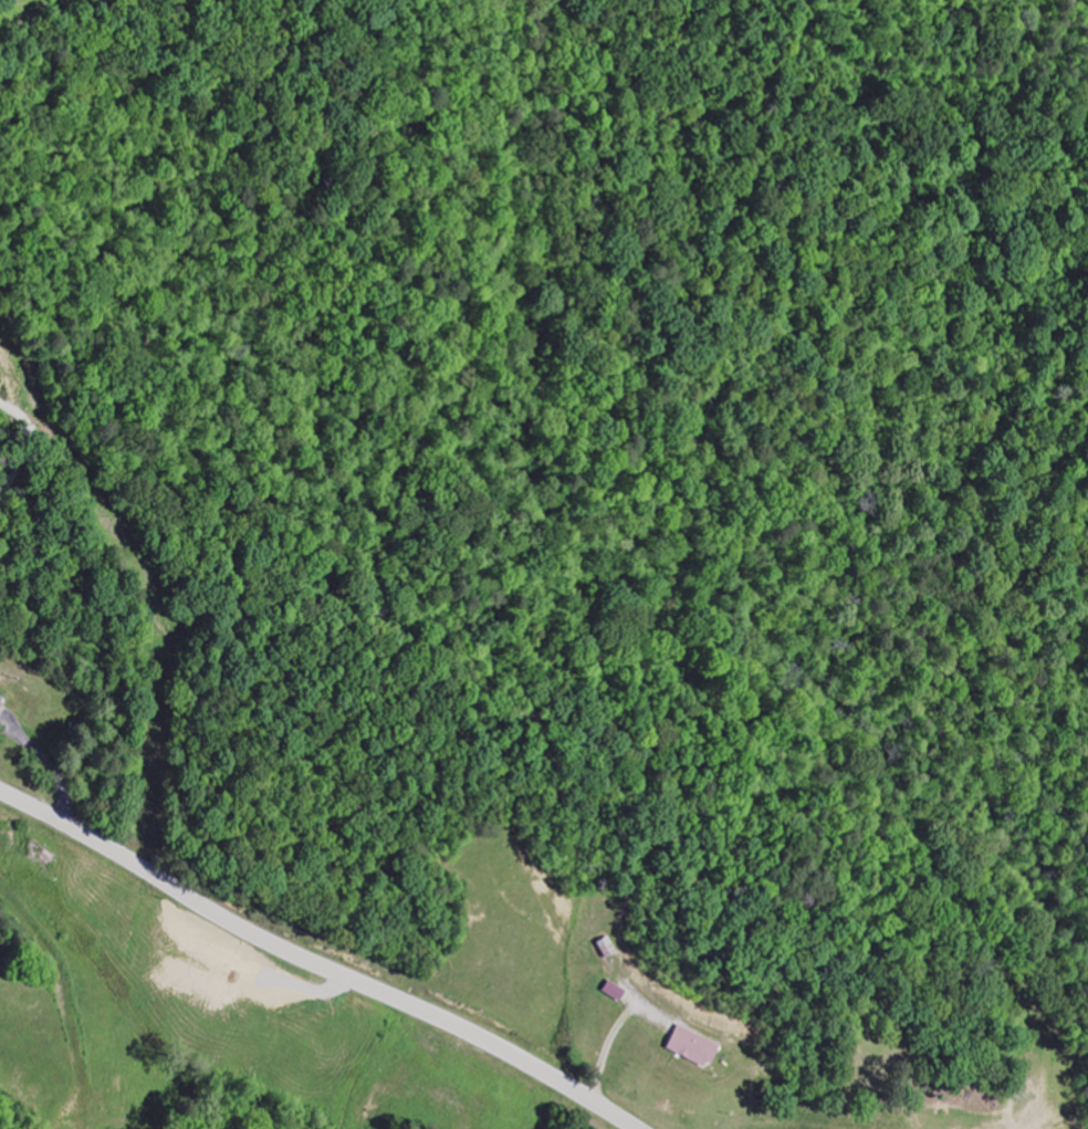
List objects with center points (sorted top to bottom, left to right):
building: (608, 948)
road: (314, 964)
building: (615, 992)
building: (694, 1047)

